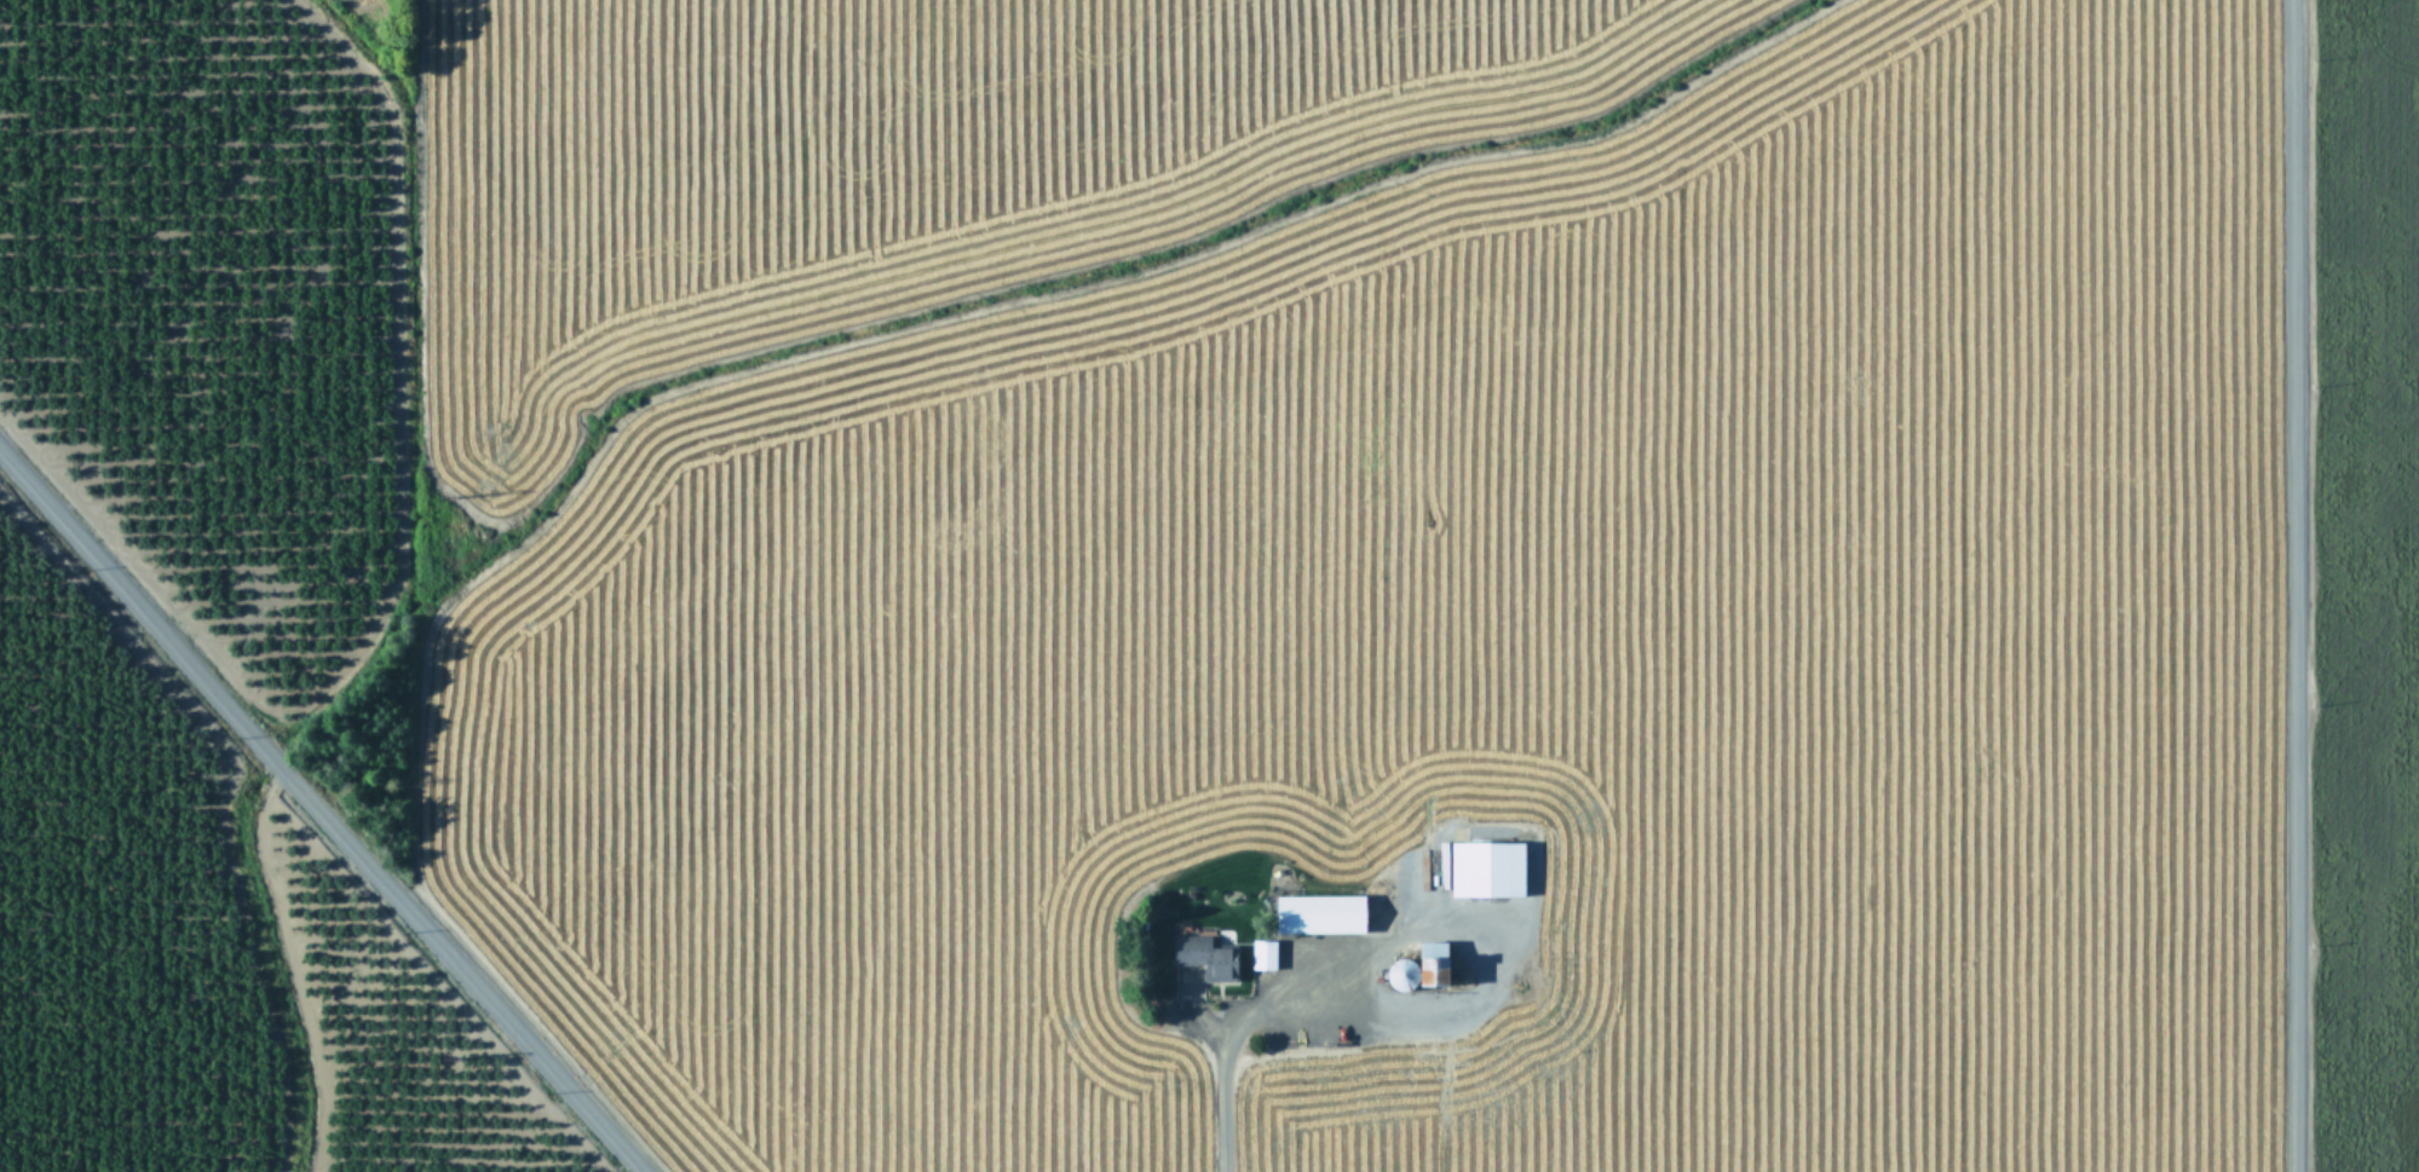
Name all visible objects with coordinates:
crop: (1243, 545)
road: (2292, 585)
crop: (2367, 587)
road: (318, 813)
building: (1486, 865)
building: (1319, 910)
building: (1262, 949)
crop: (195, 952)
building: (1205, 952)
building: (1419, 964)
road: (1221, 1052)

